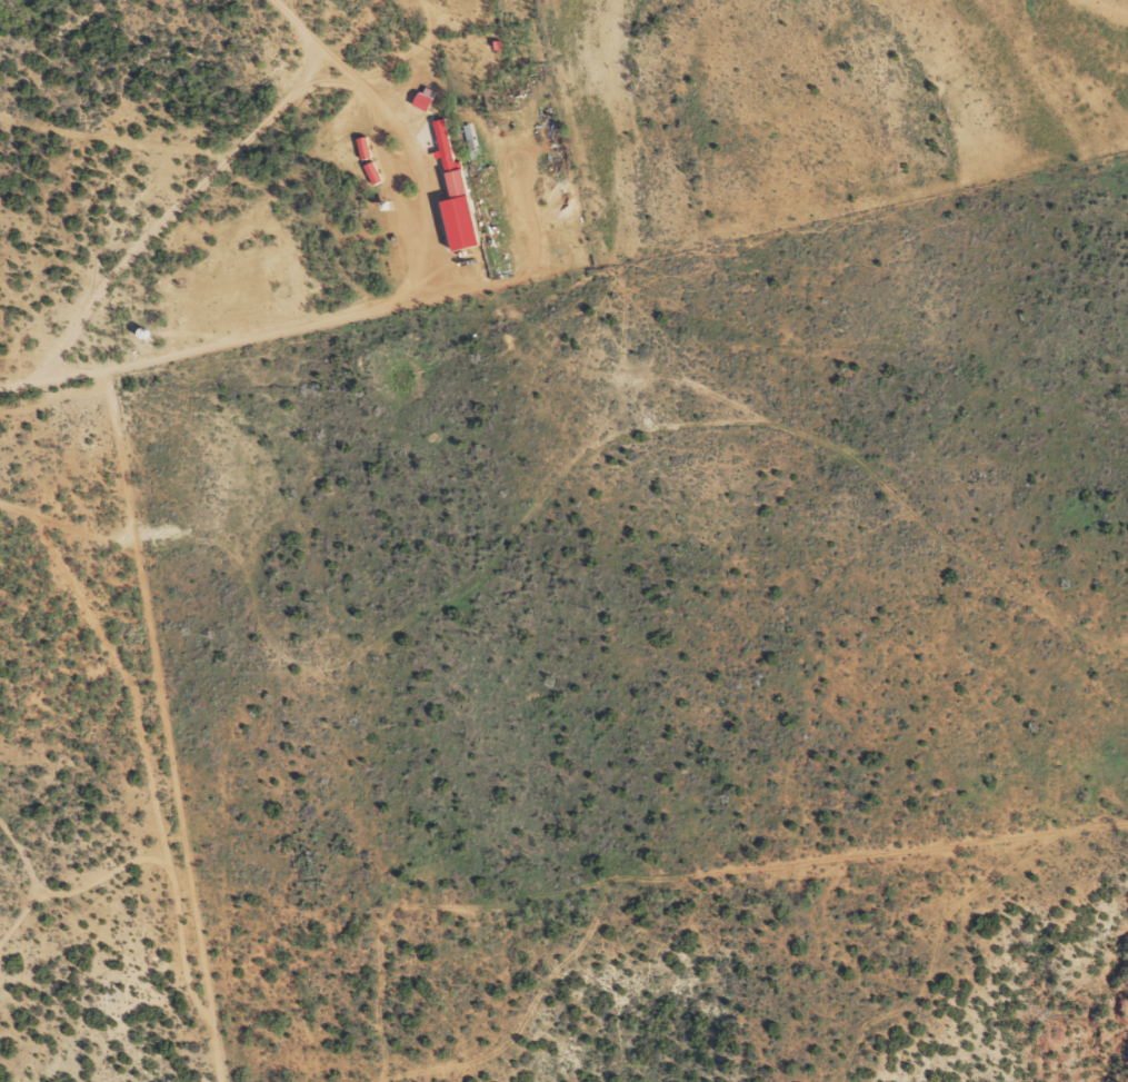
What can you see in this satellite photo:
building: (423, 96)
building: (362, 146)
building: (371, 170)
road: (228, 180)
building: (453, 193)
road: (119, 326)
road: (676, 416)

